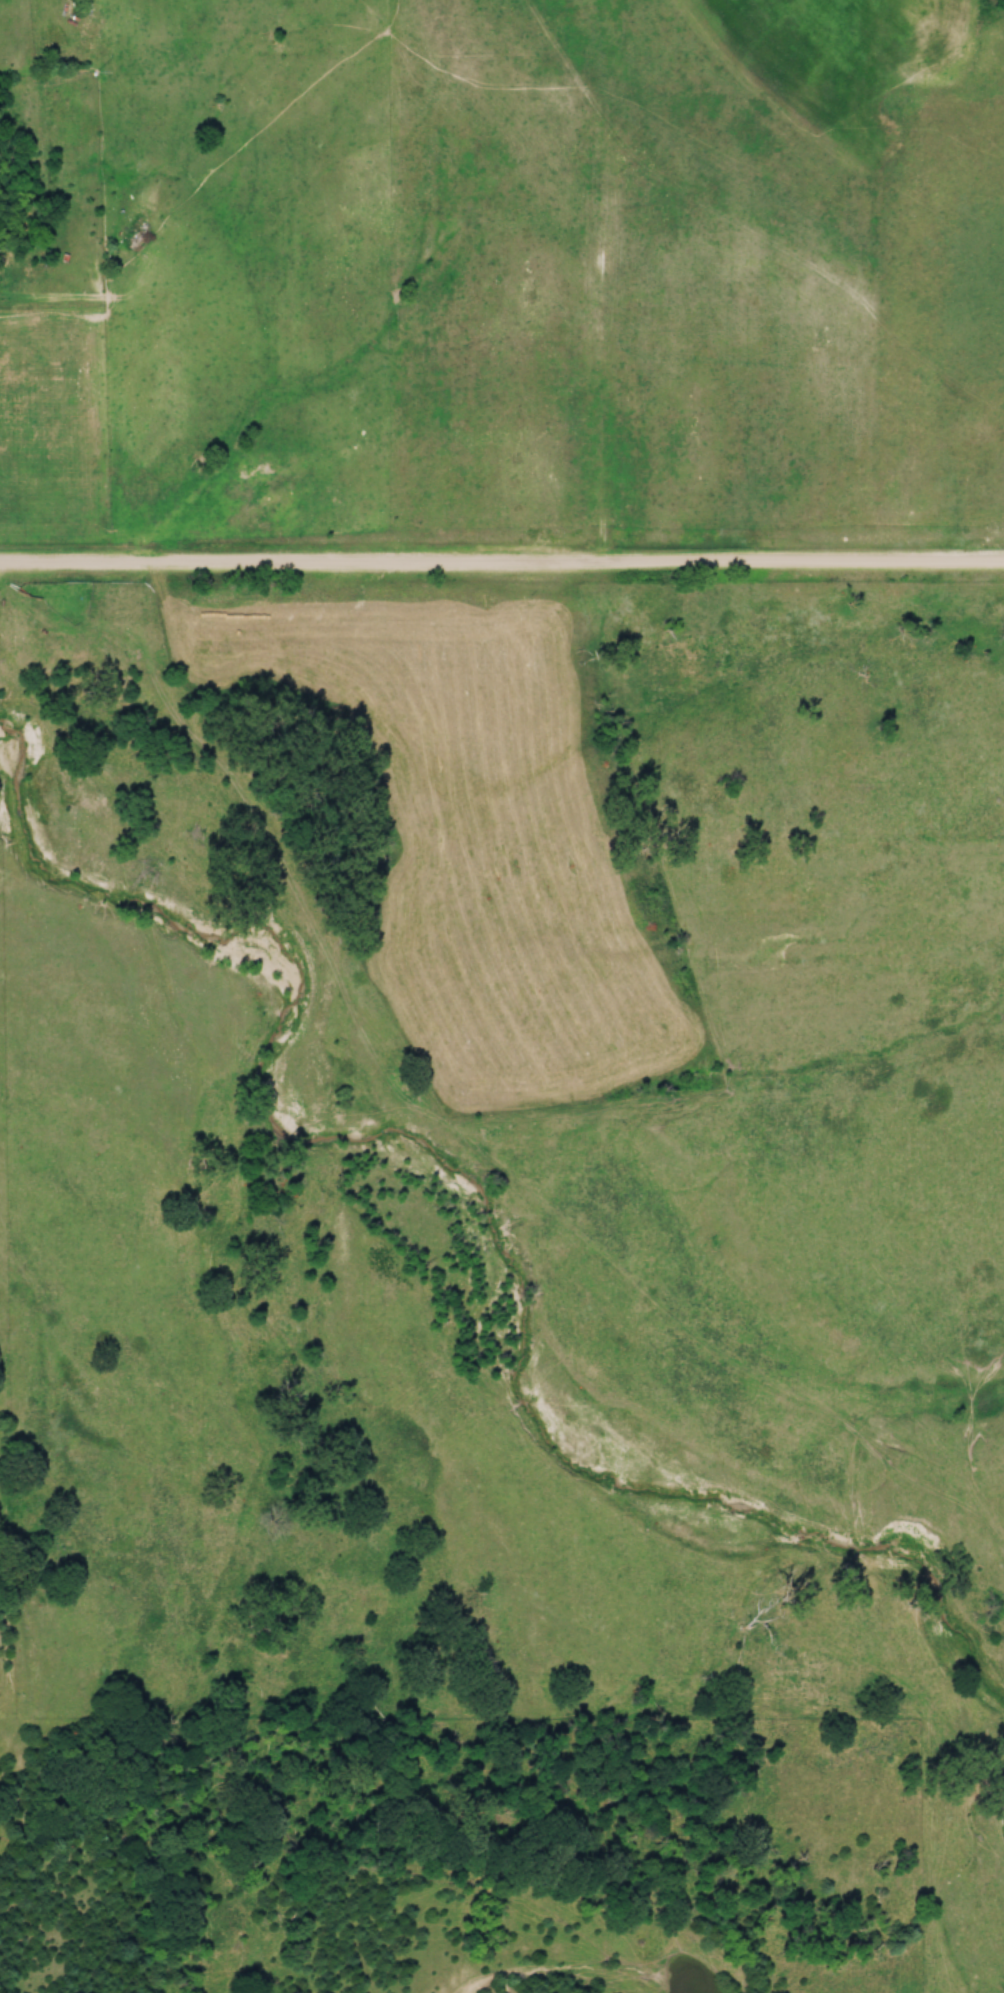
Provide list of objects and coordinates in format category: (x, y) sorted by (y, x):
road: (502, 566)

